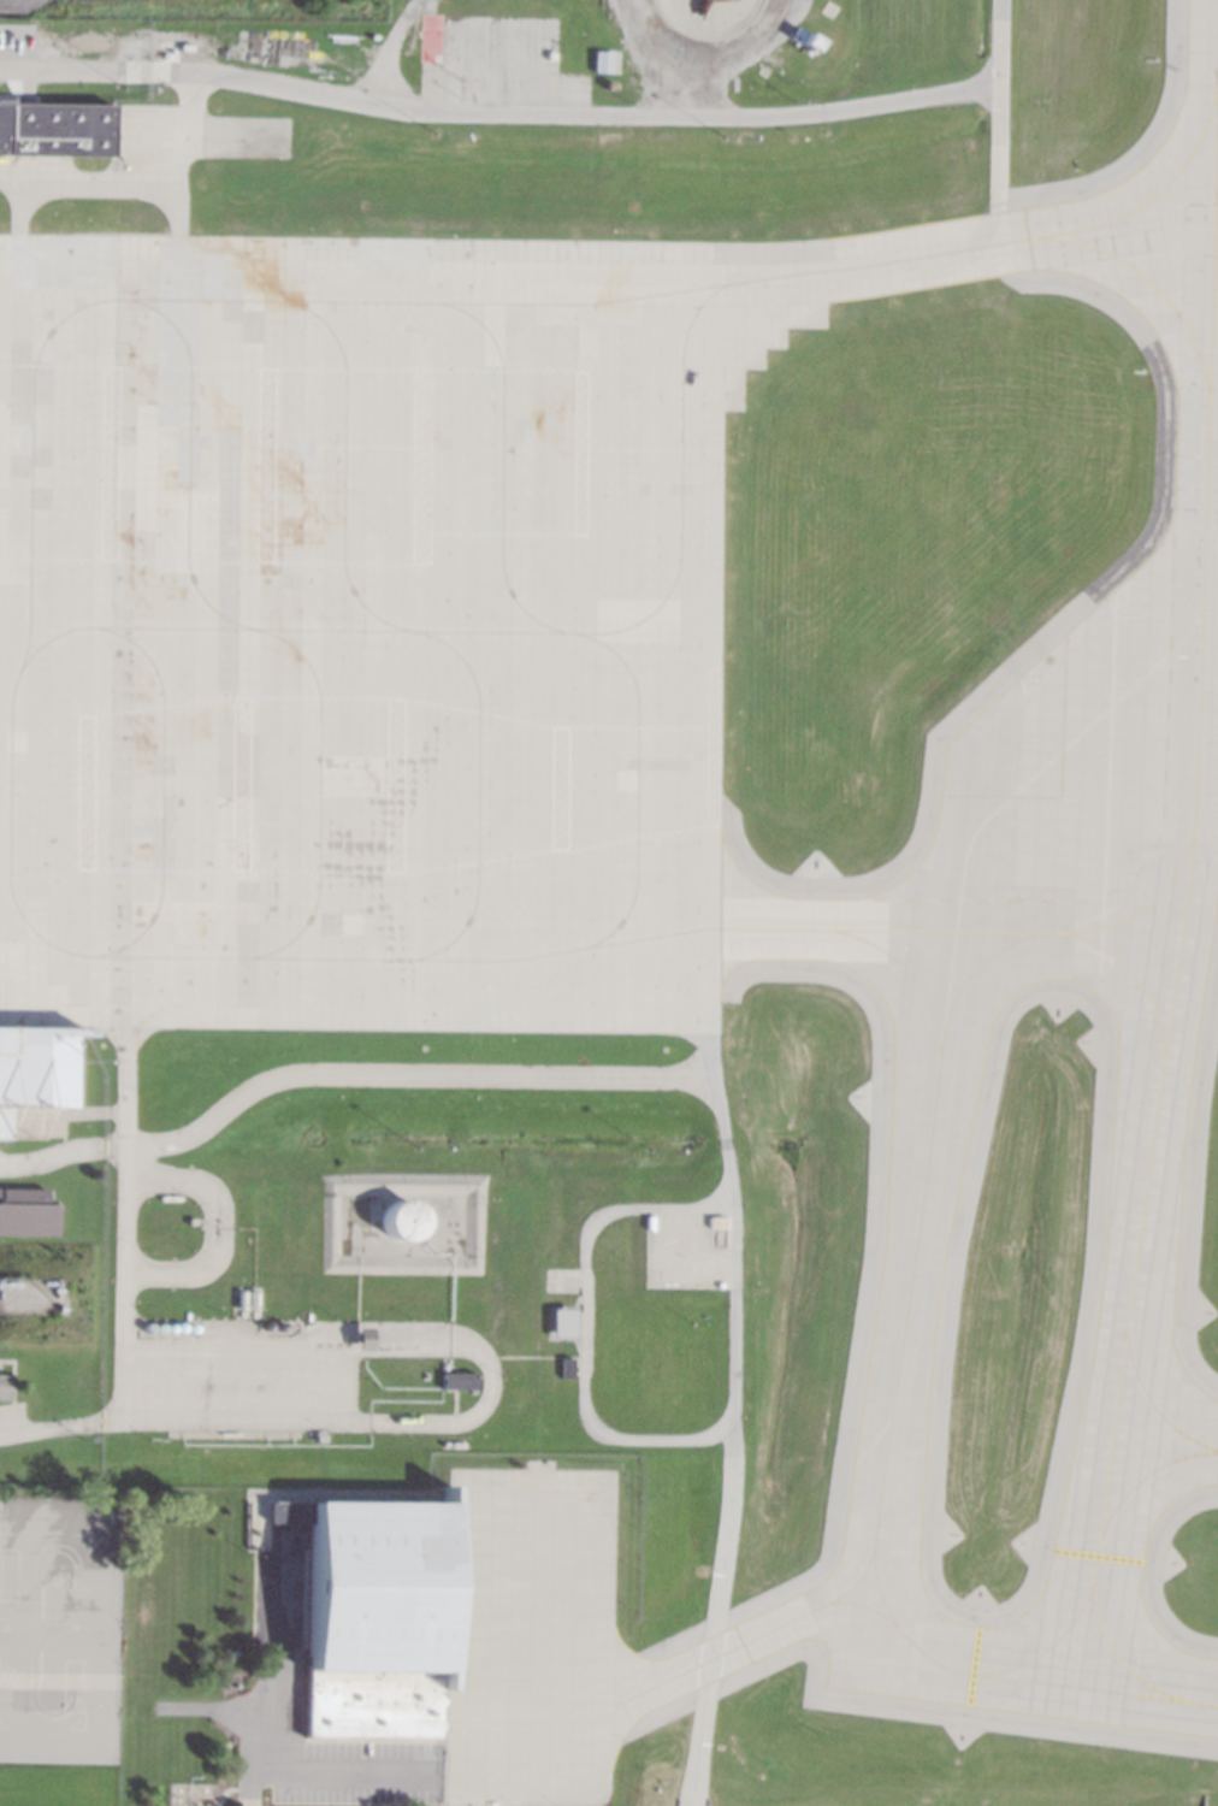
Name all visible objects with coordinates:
parking lot: (13, 8)
building: (432, 37)
building: (803, 40)
building: (602, 60)
building: (763, 67)
road: (73, 70)
building: (737, 82)
road: (999, 123)
building: (55, 126)
airport taxiway: (969, 250)
airport apron: (360, 633)
airport taxiway: (1186, 864)
airport: (610, 905)
airport taxiway: (947, 928)
building: (34, 1064)
road: (344, 1074)
building: (166, 1197)
building: (25, 1211)
building: (189, 1220)
building: (398, 1220)
road: (124, 1221)
building: (715, 1222)
airport taxiway: (909, 1255)
building: (29, 1294)
building: (557, 1323)
building: (360, 1336)
building: (563, 1368)
building: (456, 1380)
building: (4, 1386)
road: (61, 1426)
building: (318, 1438)
airport taxiway: (1166, 1439)
building: (532, 1464)
road: (719, 1606)
airport hangar: (373, 1615)
building: (373, 1615)
airport taxiway: (898, 1625)
airport apron: (531, 1636)
road: (280, 1675)
road: (208, 1712)
road: (344, 1775)
building: (212, 1804)

